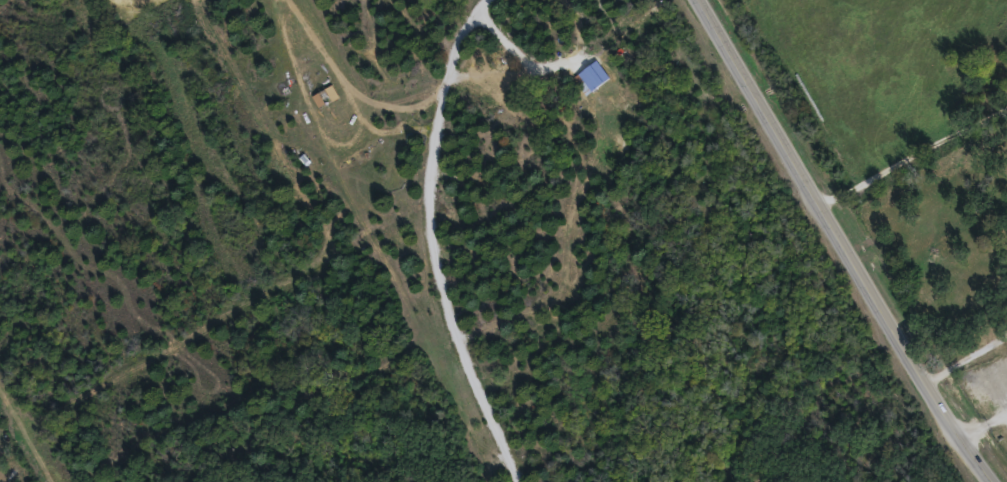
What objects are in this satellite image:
road: (510, 44)
road: (431, 96)
road: (914, 156)
road: (843, 242)
road: (966, 356)
road: (983, 425)

